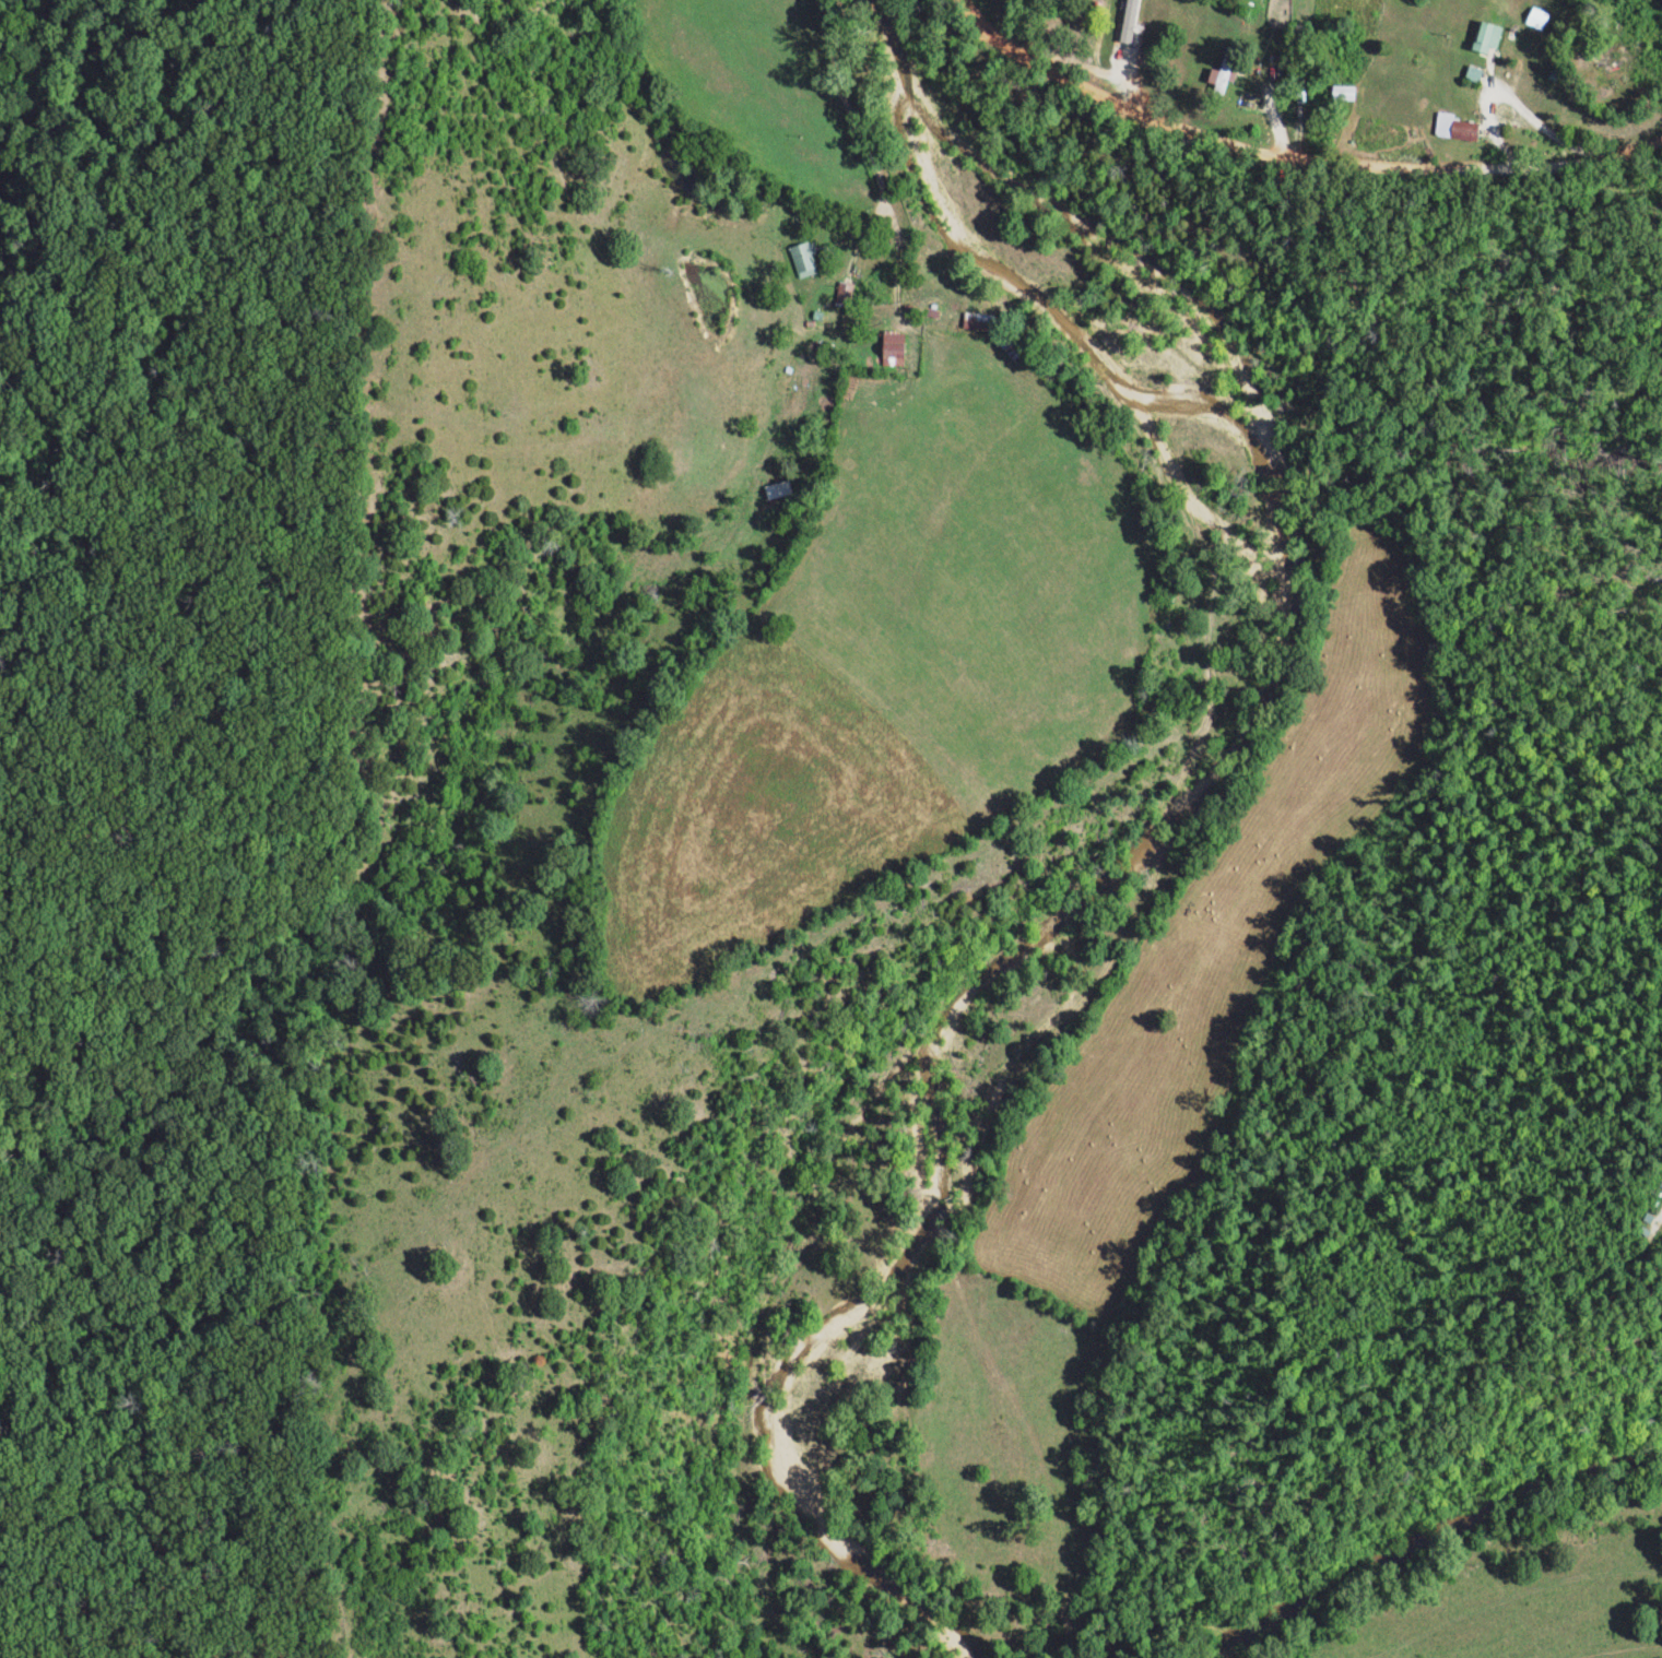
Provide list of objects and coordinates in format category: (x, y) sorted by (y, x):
building: (1543, 17)
building: (1495, 35)
building: (1229, 71)
building: (1351, 91)
road: (1521, 110)
building: (1462, 126)
road: (864, 152)
road: (1576, 152)
road: (1290, 174)
building: (811, 258)
building: (983, 320)

